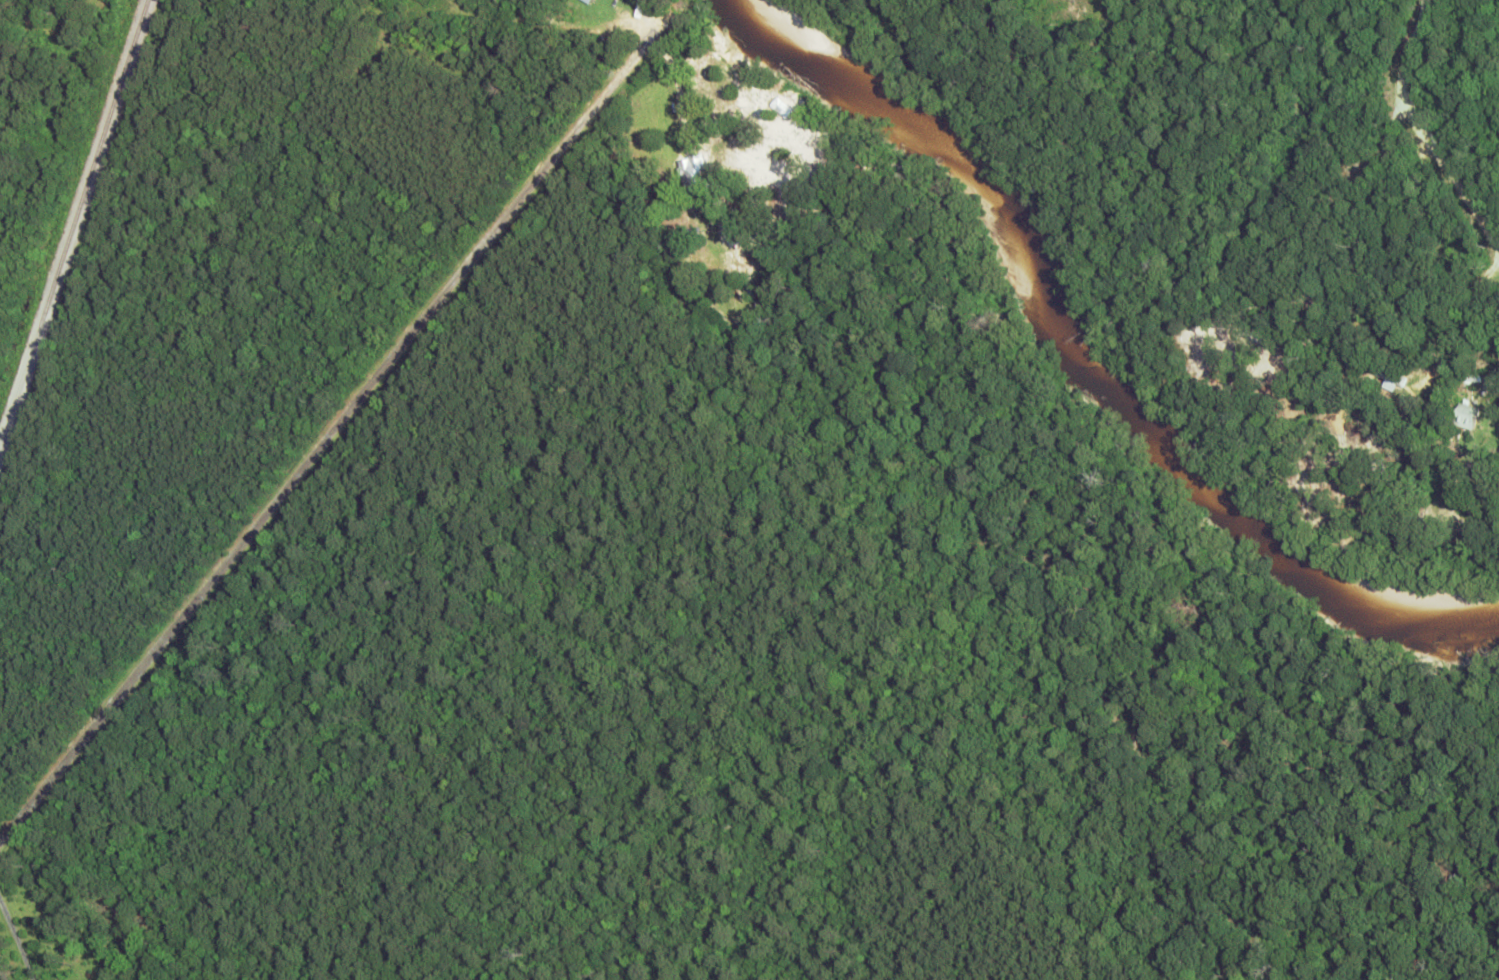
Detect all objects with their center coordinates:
road: (1419, 133)
building: (693, 165)
railway: (73, 221)
river: (1075, 360)
road: (329, 430)

